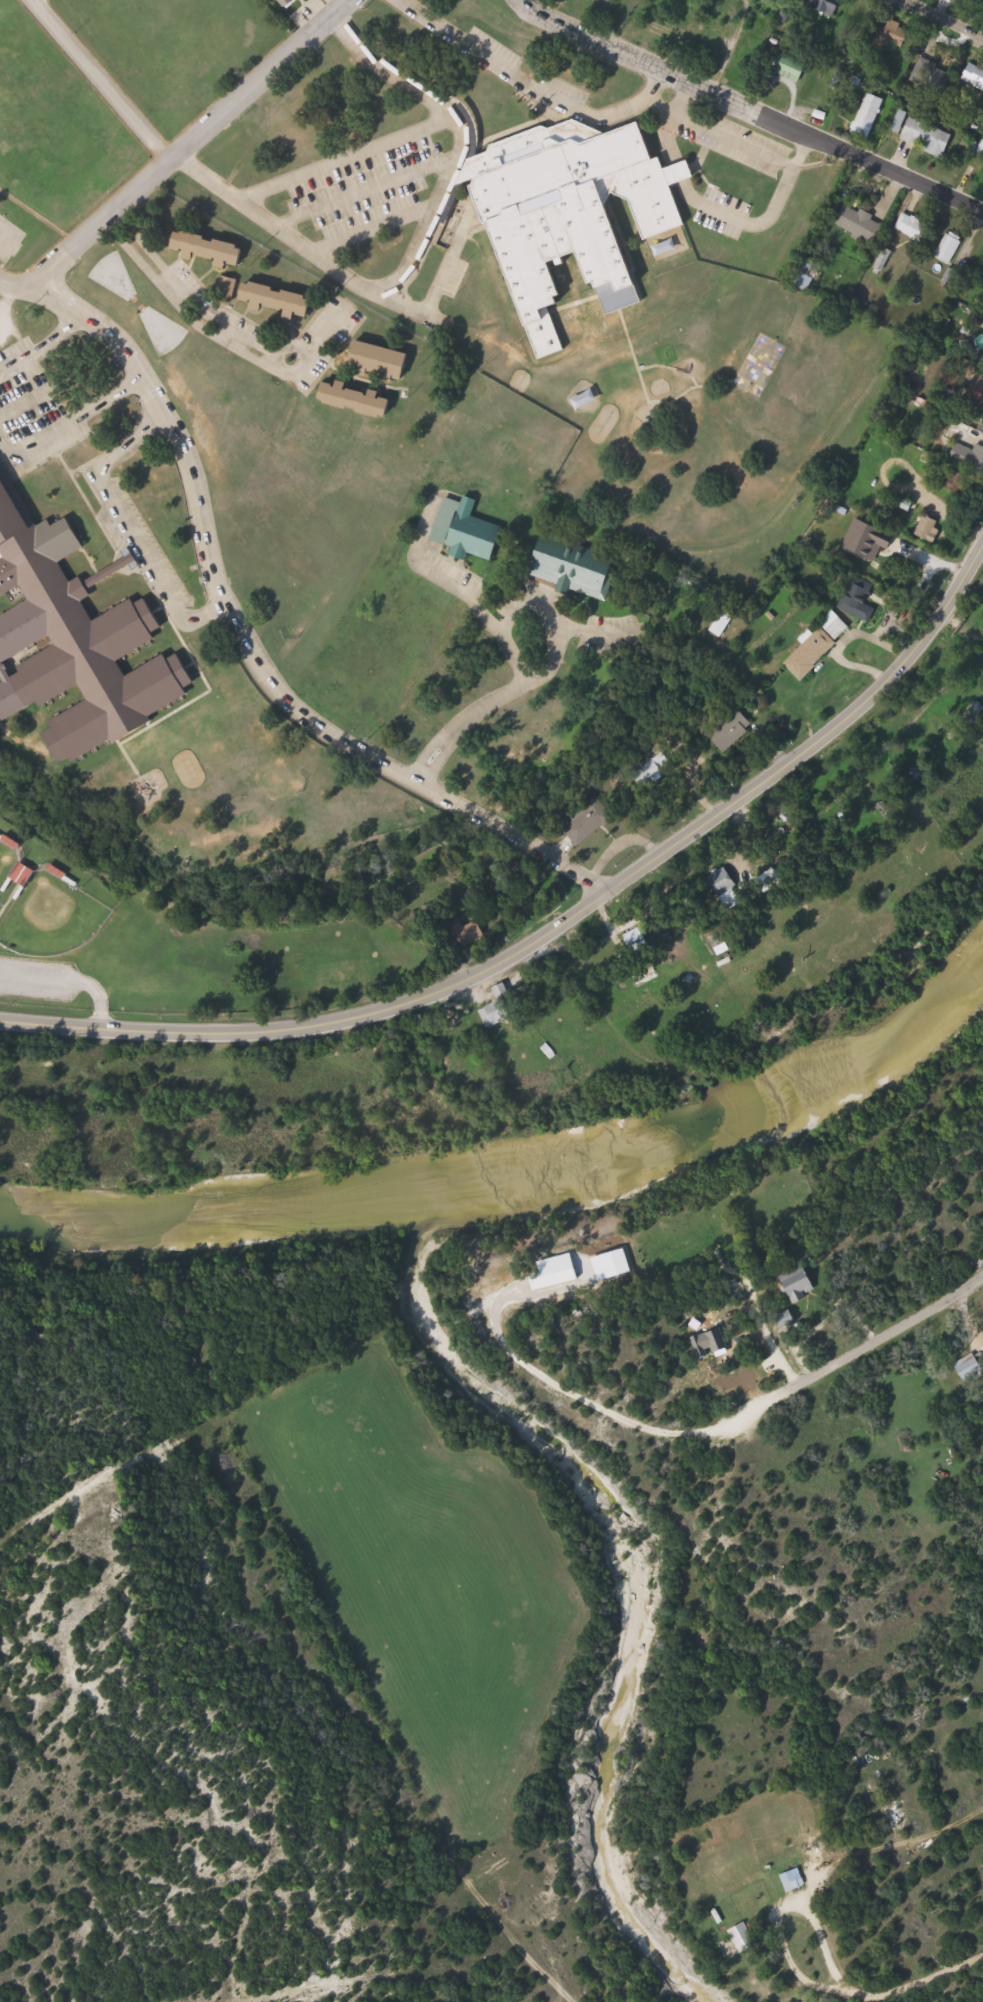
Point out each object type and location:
road: (948, 17)
building: (900, 36)
road: (385, 65)
building: (791, 68)
building: (974, 75)
building: (935, 76)
road: (97, 77)
road: (529, 83)
road: (752, 109)
building: (869, 115)
building: (922, 134)
road: (172, 144)
road: (360, 183)
road: (427, 211)
building: (577, 212)
road: (370, 219)
building: (861, 222)
building: (912, 227)
road: (5, 237)
building: (950, 247)
building: (210, 248)
building: (804, 272)
building: (229, 287)
building: (282, 300)
road: (219, 328)
road: (42, 336)
building: (384, 359)
building: (980, 390)
road: (24, 395)
building: (359, 399)
road: (68, 412)
building: (969, 457)
road: (123, 515)
building: (929, 528)
building: (475, 533)
building: (884, 549)
building: (575, 567)
building: (861, 598)
road: (490, 621)
building: (836, 626)
building: (75, 640)
road: (249, 645)
building: (811, 653)
road: (492, 702)
building: (590, 823)
park: (8, 863)
building: (726, 889)
park: (53, 918)
building: (453, 932)
road: (555, 933)
park: (74, 935)
building: (638, 940)
building: (496, 1013)
building: (553, 1281)
building: (799, 1283)
building: (969, 1368)
road: (769, 1404)
building: (788, 1882)
building: (745, 1936)

